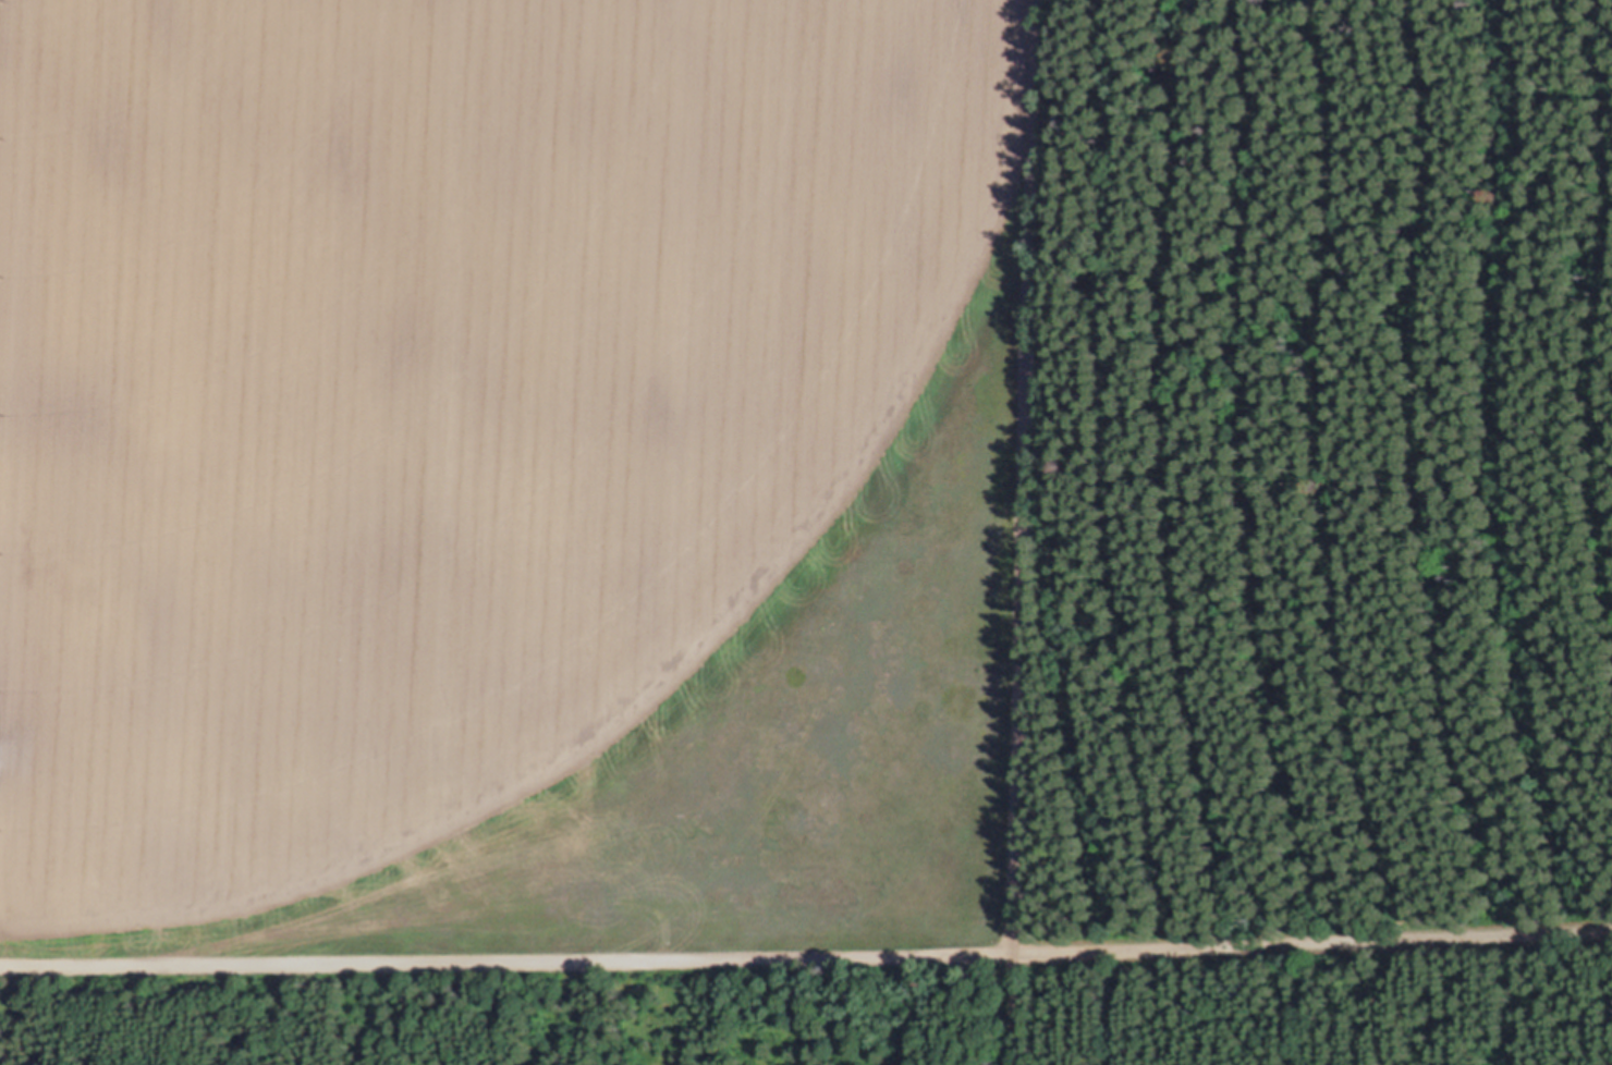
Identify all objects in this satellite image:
crop: (505, 474)
road: (1021, 531)
road: (806, 953)

